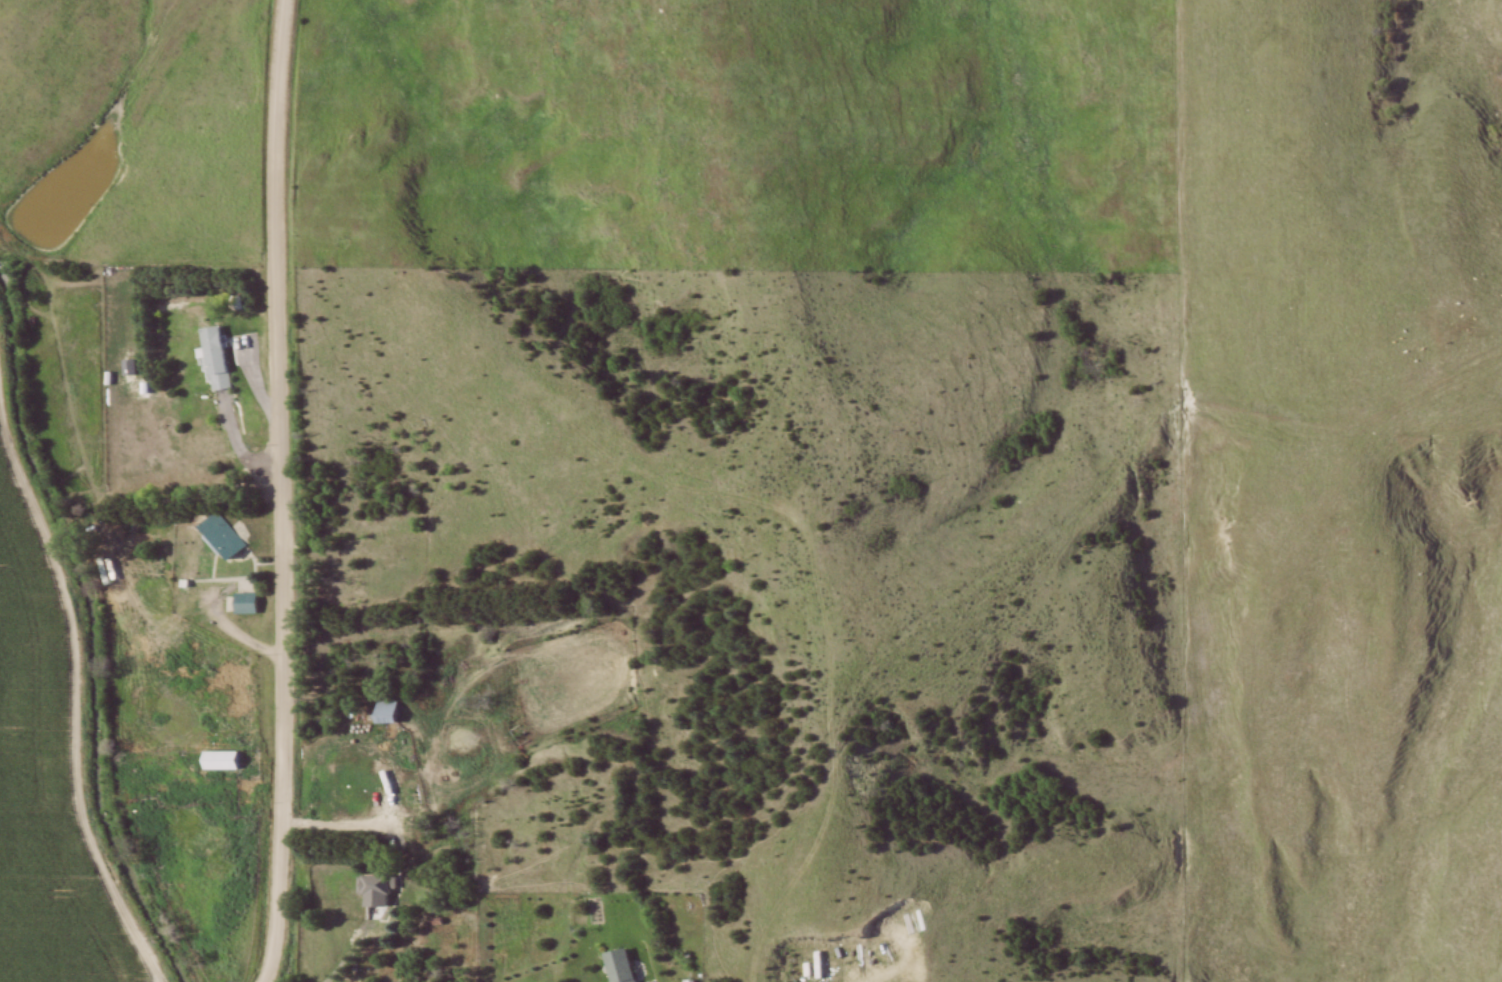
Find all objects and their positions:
building: (232, 303)
building: (211, 359)
road: (284, 491)
building: (215, 537)
building: (214, 762)
building: (367, 887)
building: (818, 965)
building: (618, 967)

